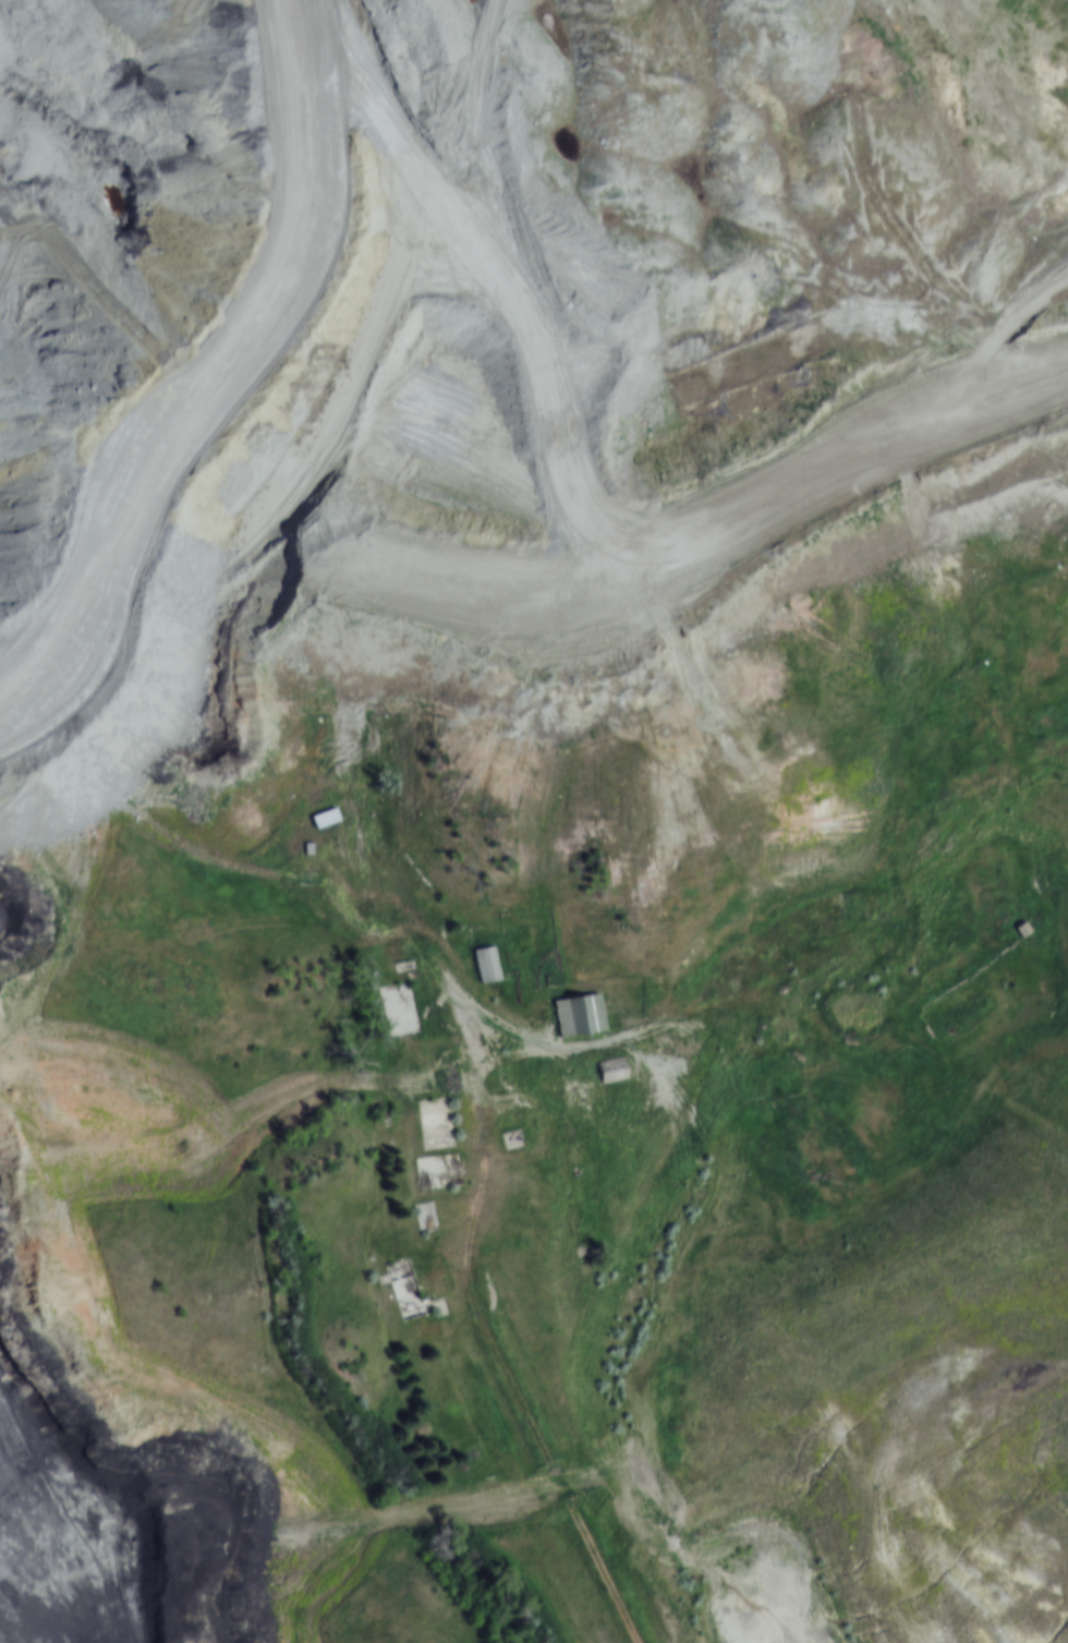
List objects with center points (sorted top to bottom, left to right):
building: (326, 818)
building: (489, 964)
road: (669, 1012)
building: (583, 1014)
building: (615, 1070)
road: (914, 1104)
road: (493, 1337)

